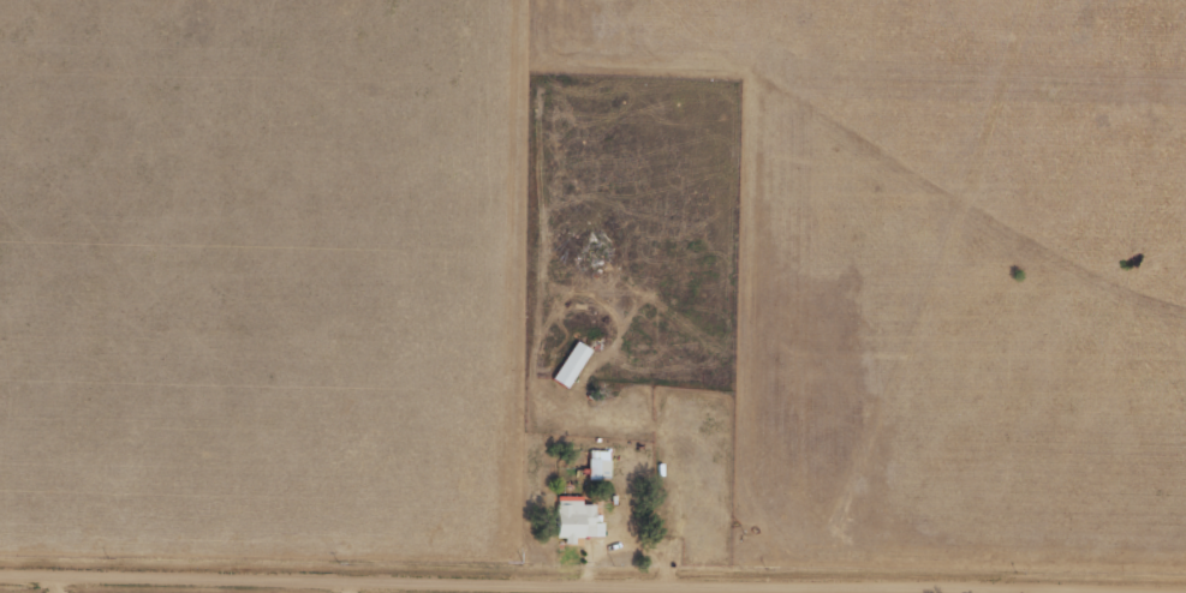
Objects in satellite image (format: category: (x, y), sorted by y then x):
building: (573, 365)
road: (439, 586)

